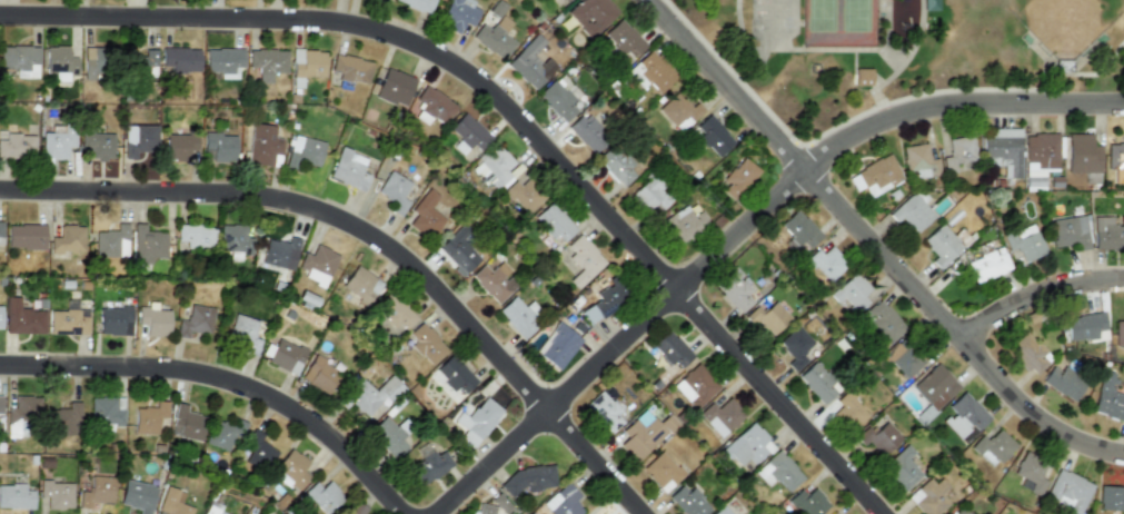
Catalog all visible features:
building: (566, 0)
building: (417, 4)
building: (929, 4)
building: (497, 9)
building: (458, 13)
building: (590, 14)
park: (820, 14)
park: (855, 14)
road: (887, 24)
road: (918, 33)
building: (494, 37)
building: (623, 38)
road: (802, 49)
park: (902, 52)
building: (61, 59)
building: (180, 59)
building: (19, 60)
building: (223, 61)
building: (267, 62)
building: (528, 62)
building: (93, 63)
building: (143, 65)
building: (306, 65)
building: (350, 68)
building: (649, 72)
road: (1087, 73)
building: (862, 77)
road: (882, 83)
building: (394, 87)
building: (555, 98)
building: (432, 107)
road: (885, 110)
building: (679, 111)
road: (517, 113)
building: (467, 132)
building: (586, 134)
building: (712, 136)
building: (138, 140)
building: (262, 144)
building: (16, 145)
building: (56, 145)
building: (97, 145)
building: (179, 147)
building: (218, 147)
building: (1002, 149)
building: (304, 151)
building: (1082, 154)
building: (959, 155)
building: (1038, 158)
building: (918, 160)
building: (616, 166)
building: (495, 167)
building: (348, 169)
building: (875, 176)
building: (738, 177)
building: (394, 191)
building: (524, 194)
building: (650, 194)
building: (912, 212)
building: (425, 217)
building: (553, 221)
building: (683, 224)
road: (745, 227)
building: (796, 231)
building: (1070, 231)
building: (0, 233)
building: (1108, 235)
building: (195, 236)
building: (24, 237)
road: (377, 238)
building: (67, 239)
building: (111, 241)
building: (233, 241)
road: (875, 243)
building: (1025, 243)
building: (944, 244)
building: (150, 246)
building: (458, 250)
building: (278, 251)
building: (826, 263)
building: (987, 263)
building: (317, 264)
building: (580, 264)
building: (494, 281)
building: (361, 285)
building: (733, 289)
building: (851, 291)
road: (1037, 291)
building: (604, 299)
building: (395, 312)
building: (0, 313)
building: (520, 315)
building: (768, 317)
building: (21, 318)
building: (153, 319)
building: (68, 320)
building: (115, 320)
building: (196, 320)
building: (882, 322)
building: (1085, 327)
building: (245, 333)
building: (1118, 333)
building: (425, 343)
building: (557, 345)
building: (795, 346)
building: (670, 349)
building: (1028, 353)
building: (286, 356)
building: (903, 357)
building: (319, 374)
building: (454, 374)
building: (818, 379)
building: (1062, 380)
road: (225, 382)
building: (696, 385)
building: (934, 386)
building: (368, 394)
building: (1107, 396)
building: (0, 409)
building: (604, 411)
building: (847, 411)
building: (105, 412)
building: (720, 414)
building: (963, 415)
building: (148, 417)
building: (64, 419)
building: (476, 421)
building: (186, 423)
building: (225, 434)
building: (639, 434)
building: (388, 436)
building: (877, 436)
building: (748, 443)
building: (993, 445)
building: (258, 449)
building: (428, 464)
building: (901, 467)
building: (291, 469)
building: (663, 471)
building: (778, 471)
building: (1029, 475)
building: (529, 478)
building: (1067, 491)
building: (56, 494)
building: (137, 495)
building: (14, 496)
building: (324, 496)
building: (928, 496)
building: (1111, 498)
building: (564, 501)
building: (688, 501)
building: (172, 502)
building: (808, 502)
building: (212, 508)
building: (483, 510)
building: (720, 511)
building: (832, 512)
building: (957, 512)

